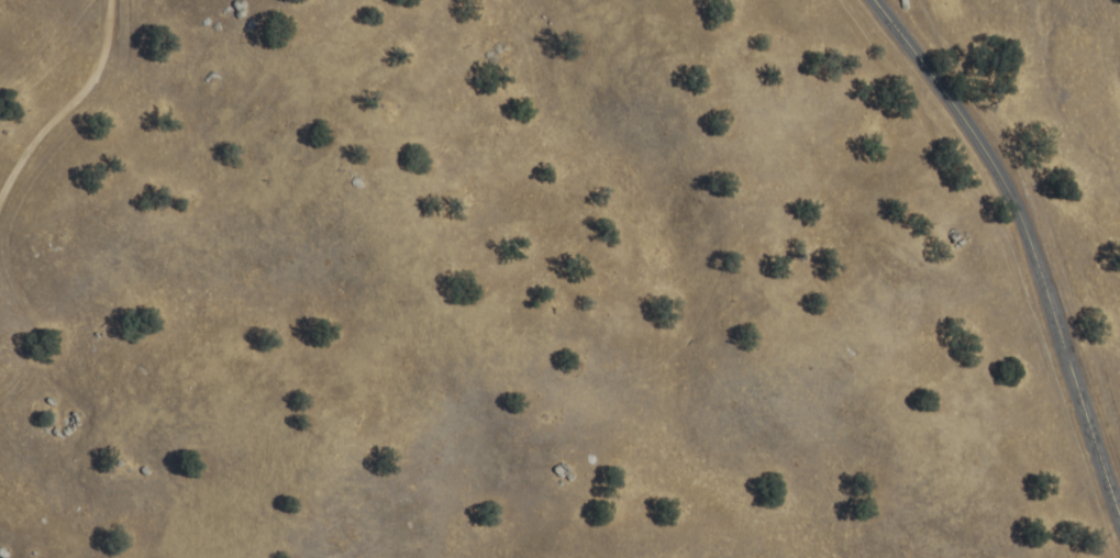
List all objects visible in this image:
road: (989, 271)

